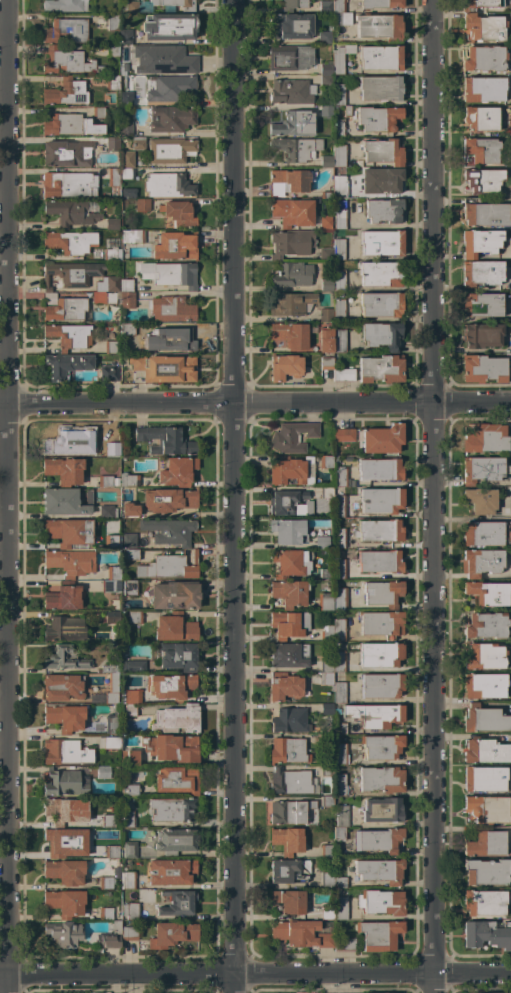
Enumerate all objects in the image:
building: (381, 4)
building: (480, 4)
building: (64, 5)
building: (293, 5)
building: (136, 6)
building: (338, 6)
building: (325, 7)
building: (341, 19)
building: (112, 21)
building: (169, 26)
building: (291, 26)
building: (379, 27)
building: (484, 27)
building: (66, 30)
building: (125, 36)
building: (325, 37)
building: (113, 51)
building: (290, 57)
building: (341, 57)
building: (380, 58)
building: (484, 59)
building: (163, 60)
building: (67, 61)
building: (124, 67)
building: (326, 68)
building: (326, 79)
building: (112, 83)
building: (170, 88)
building: (380, 88)
building: (483, 89)
building: (66, 92)
building: (291, 92)
building: (338, 94)
building: (126, 99)
building: (326, 111)
building: (347, 111)
building: (98, 112)
building: (170, 118)
building: (480, 118)
building: (377, 119)
building: (294, 124)
building: (70, 125)
building: (125, 127)
building: (338, 127)
building: (138, 143)
building: (112, 144)
building: (296, 148)
building: (169, 150)
building: (481, 150)
building: (382, 151)
building: (66, 154)
building: (338, 155)
building: (126, 159)
building: (326, 161)
building: (126, 173)
building: (381, 180)
building: (482, 180)
building: (114, 181)
building: (287, 182)
building: (68, 185)
building: (168, 185)
building: (339, 186)
building: (129, 192)
building: (326, 195)
road: (431, 200)
road: (6, 201)
road: (234, 202)
building: (142, 205)
building: (383, 210)
building: (292, 212)
building: (70, 213)
building: (178, 213)
building: (484, 213)
building: (339, 215)
building: (326, 222)
building: (112, 224)
building: (132, 236)
building: (70, 242)
building: (382, 242)
building: (481, 242)
building: (291, 243)
building: (175, 246)
building: (338, 249)
building: (109, 254)
building: (325, 254)
building: (380, 273)
building: (481, 273)
building: (72, 274)
building: (169, 274)
building: (292, 275)
building: (338, 280)
building: (108, 284)
building: (126, 285)
building: (326, 285)
building: (109, 298)
building: (127, 300)
building: (290, 303)
building: (381, 304)
building: (482, 305)
building: (67, 309)
building: (171, 309)
building: (338, 310)
building: (325, 315)
building: (132, 329)
building: (290, 335)
building: (381, 335)
building: (482, 335)
building: (69, 336)
building: (171, 338)
building: (326, 340)
building: (339, 341)
building: (111, 347)
building: (510, 350)
building: (326, 363)
building: (66, 365)
building: (284, 367)
building: (164, 368)
building: (381, 369)
building: (483, 369)
building: (109, 373)
building: (343, 374)
road: (255, 405)
building: (112, 433)
building: (343, 435)
building: (292, 436)
building: (382, 439)
building: (486, 439)
building: (165, 440)
building: (62, 441)
building: (99, 448)
building: (336, 459)
building: (324, 461)
building: (379, 469)
building: (482, 469)
building: (63, 470)
building: (175, 471)
building: (286, 471)
building: (340, 476)
building: (128, 480)
building: (105, 481)
building: (116, 481)
building: (326, 492)
building: (169, 499)
building: (381, 500)
building: (480, 500)
building: (64, 501)
building: (289, 503)
building: (340, 506)
building: (107, 511)
building: (129, 511)
building: (379, 530)
building: (169, 531)
building: (287, 531)
building: (68, 532)
building: (484, 534)
building: (338, 538)
building: (129, 540)
building: (321, 542)
building: (122, 554)
building: (131, 554)
building: (379, 561)
building: (70, 562)
building: (480, 562)
building: (291, 563)
building: (168, 567)
building: (339, 569)
building: (510, 572)
building: (113, 573)
building: (324, 574)
building: (110, 586)
building: (130, 587)
building: (289, 592)
building: (382, 593)
building: (487, 593)
building: (174, 595)
building: (63, 598)
building: (339, 598)
building: (325, 601)
building: (110, 617)
building: (134, 617)
building: (382, 623)
building: (289, 624)
building: (486, 625)
building: (174, 628)
building: (65, 629)
building: (338, 629)
building: (326, 633)
building: (288, 655)
building: (380, 655)
building: (178, 656)
building: (484, 656)
building: (65, 658)
building: (339, 661)
building: (111, 666)
building: (133, 666)
building: (326, 666)
building: (325, 679)
building: (381, 685)
building: (484, 685)
building: (170, 686)
building: (284, 686)
building: (63, 687)
building: (111, 689)
building: (339, 692)
road: (433, 696)
road: (7, 697)
building: (96, 697)
road: (236, 699)
building: (131, 701)
building: (327, 708)
building: (373, 715)
building: (65, 716)
building: (484, 719)
building: (176, 720)
building: (290, 720)
building: (113, 721)
building: (337, 728)
building: (109, 742)
building: (381, 746)
building: (170, 747)
building: (287, 750)
building: (485, 751)
building: (65, 752)
building: (340, 754)
building: (132, 757)
building: (326, 770)
building: (103, 772)
building: (484, 778)
building: (382, 779)
building: (177, 780)
building: (290, 781)
building: (63, 783)
building: (339, 784)
building: (129, 789)
building: (327, 801)
building: (171, 809)
building: (487, 809)
building: (59, 810)
building: (382, 810)
building: (290, 812)
building: (510, 814)
building: (342, 816)
building: (127, 819)
building: (107, 821)
building: (339, 833)
building: (287, 840)
building: (378, 840)
building: (175, 841)
building: (64, 843)
building: (485, 844)
building: (129, 849)
building: (105, 850)
building: (326, 851)
building: (379, 870)
building: (64, 871)
building: (285, 871)
building: (170, 872)
building: (486, 872)
building: (109, 879)
building: (127, 880)
building: (327, 880)
building: (340, 882)
building: (290, 901)
building: (381, 902)
building: (484, 902)
building: (64, 903)
building: (178, 903)
building: (340, 908)
building: (130, 911)
building: (327, 912)
building: (105, 914)
building: (63, 933)
building: (129, 933)
building: (172, 934)
building: (300, 934)
building: (378, 934)
building: (487, 934)
building: (110, 937)
building: (344, 945)
building: (140, 947)
road: (255, 977)
building: (362, 992)
building: (499, 992)

